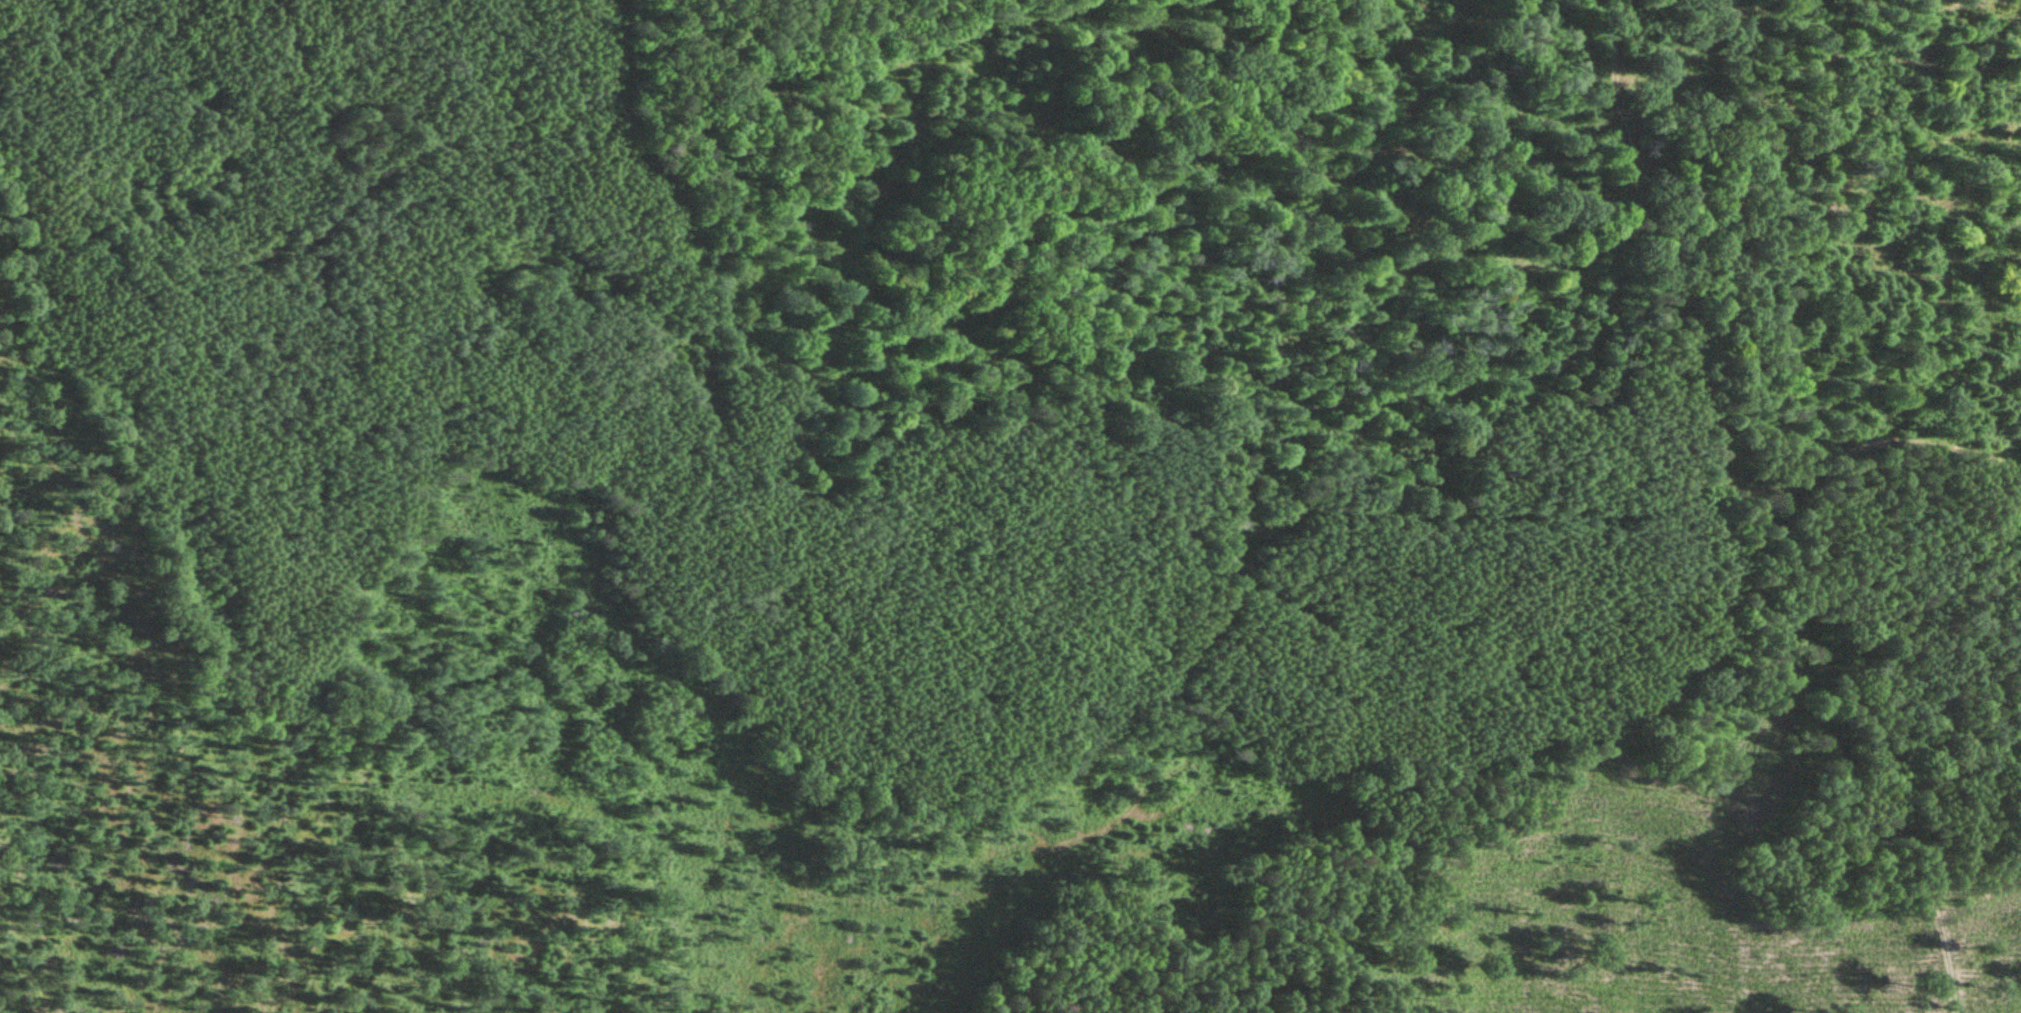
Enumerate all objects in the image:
road: (1639, 250)
road: (1804, 612)

